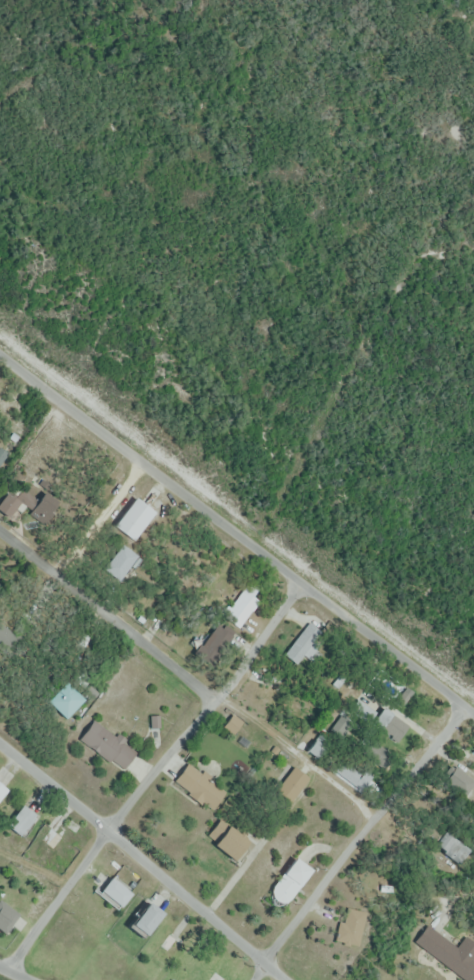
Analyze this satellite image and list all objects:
building: (26, 501)
road: (101, 517)
road: (236, 531)
building: (119, 562)
building: (241, 604)
road: (107, 613)
building: (8, 638)
building: (303, 643)
building: (214, 644)
building: (62, 698)
building: (377, 716)
building: (232, 723)
building: (107, 743)
building: (472, 751)
road: (153, 773)
road: (55, 782)
building: (290, 784)
building: (198, 785)
building: (1, 790)
building: (20, 820)
building: (225, 838)
road: (355, 839)
building: (57, 842)
building: (451, 846)
road: (35, 866)
building: (287, 880)
building: (114, 891)
road: (200, 902)
building: (6, 917)
building: (350, 926)
building: (165, 949)
building: (449, 951)
road: (15, 972)
building: (217, 977)
building: (172, 979)

